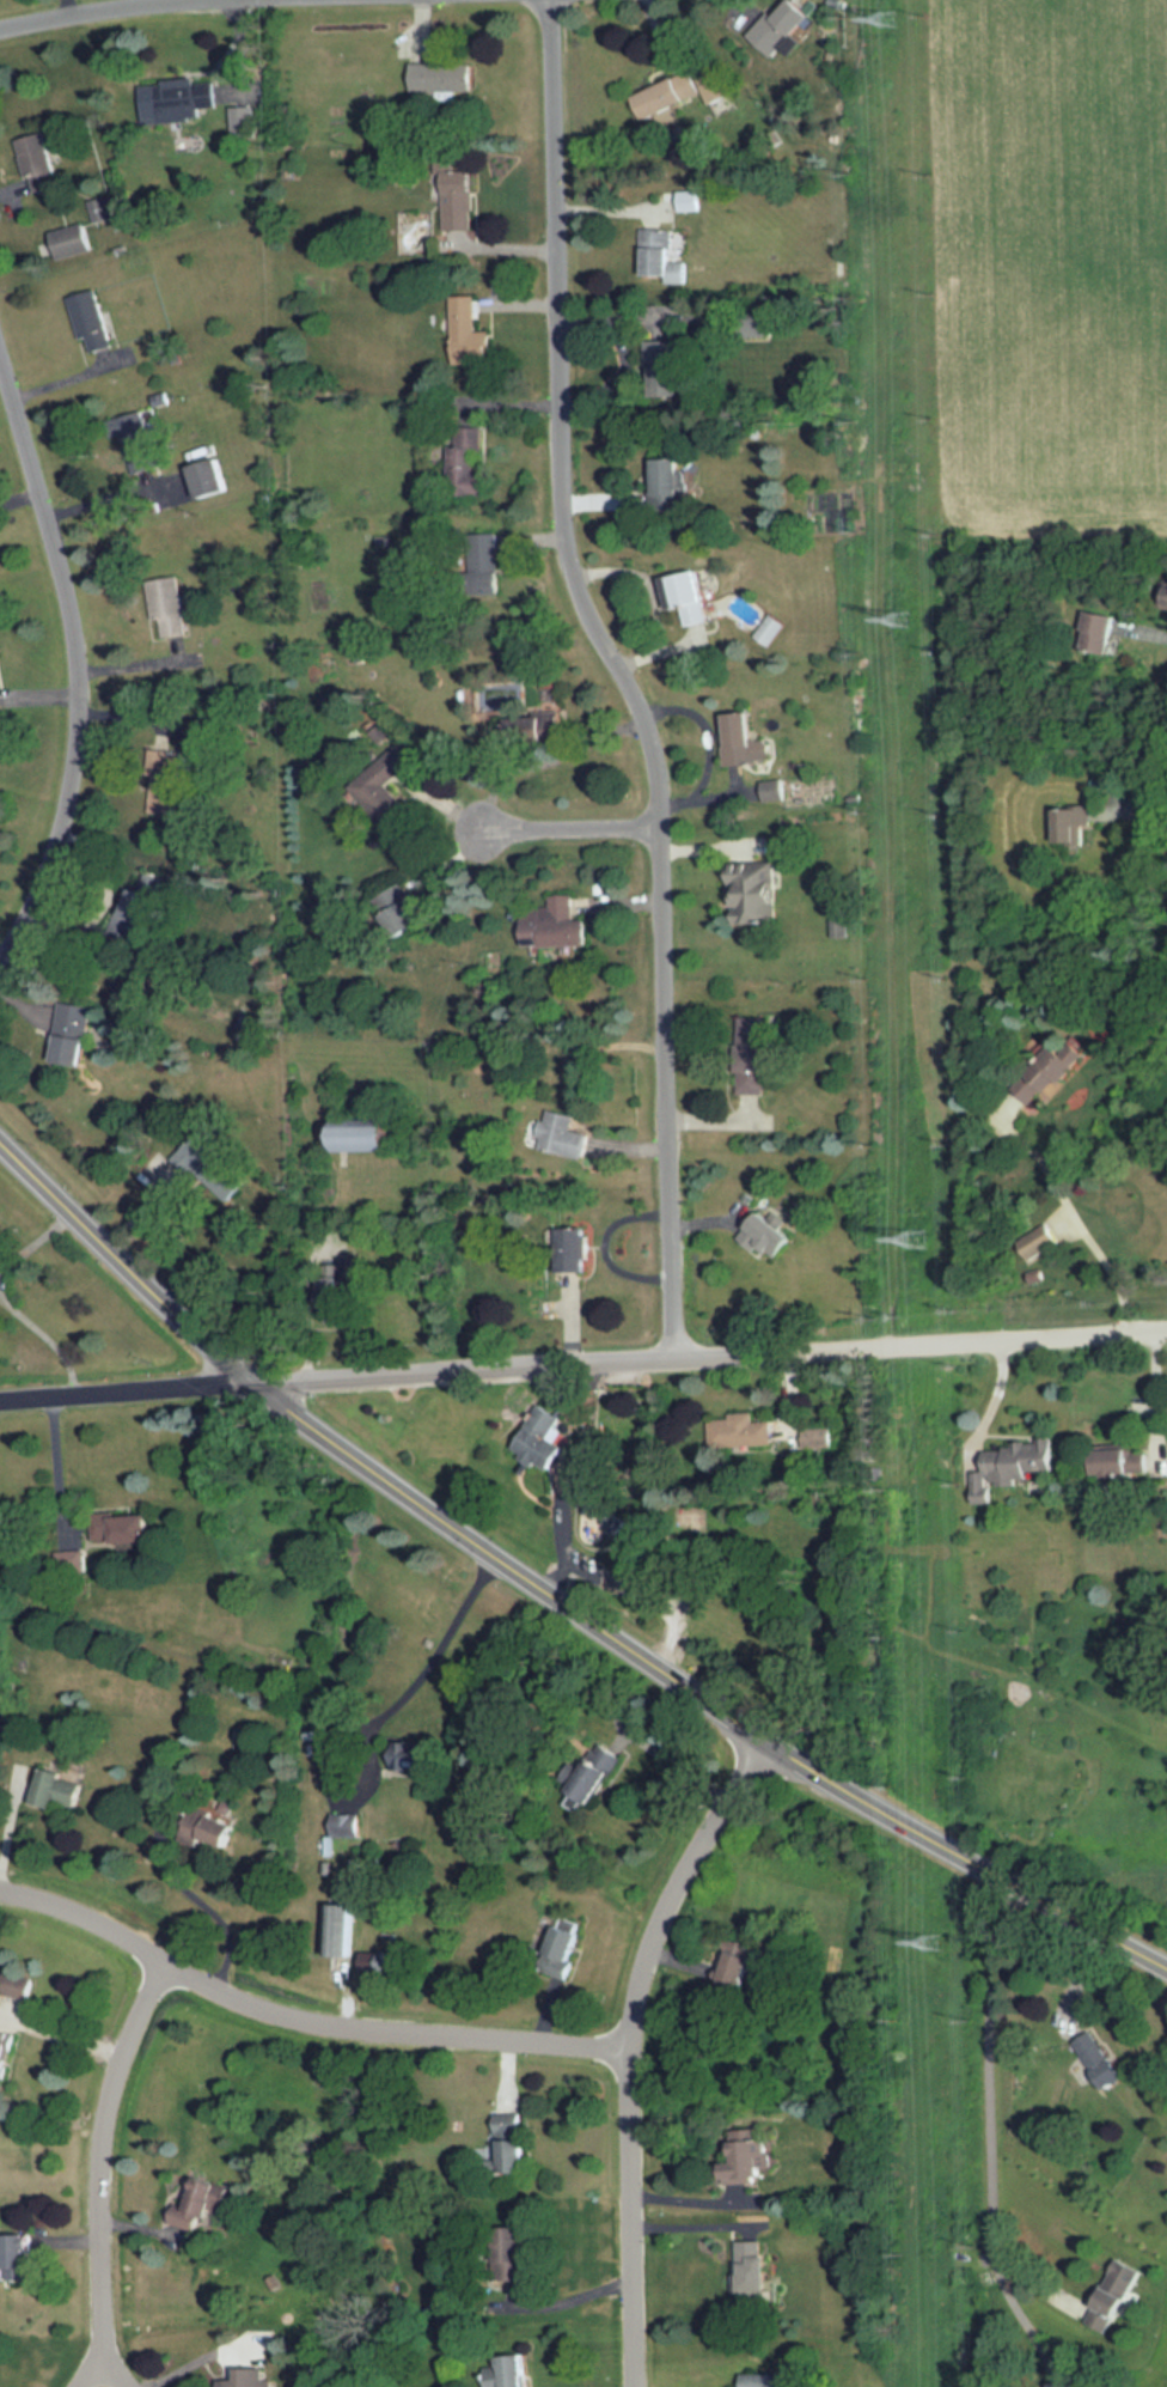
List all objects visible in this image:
road: (80, 10)
power tower: (888, 18)
building: (780, 29)
building: (442, 77)
building: (714, 85)
building: (667, 95)
building: (37, 163)
building: (459, 199)
building: (102, 208)
building: (71, 240)
building: (658, 252)
building: (91, 318)
building: (468, 331)
building: (662, 367)
building: (466, 458)
building: (201, 480)
building: (666, 481)
building: (481, 552)
building: (686, 595)
building: (1166, 601)
building: (167, 604)
power tower: (905, 617)
building: (771, 628)
building: (1098, 632)
road: (1159, 638)
road: (84, 653)
road: (628, 672)
building: (743, 739)
building: (774, 786)
building: (378, 787)
building: (161, 796)
road: (1143, 809)
building: (1071, 824)
road: (566, 827)
building: (754, 890)
building: (140, 906)
building: (838, 920)
building: (556, 925)
building: (73, 1034)
building: (753, 1054)
building: (1045, 1068)
building: (372, 1133)
building: (562, 1134)
road: (1079, 1225)
building: (1037, 1236)
building: (769, 1237)
power tower: (917, 1240)
road: (36, 1241)
building: (574, 1249)
road: (127, 1259)
building: (1035, 1271)
building: (334, 1301)
road: (42, 1334)
road: (961, 1339)
road: (507, 1364)
road: (128, 1388)
building: (538, 1427)
building: (738, 1432)
building: (815, 1433)
road: (60, 1460)
building: (1123, 1462)
building: (1012, 1466)
building: (617, 1522)
building: (122, 1528)
building: (71, 1557)
road: (701, 1688)
building: (8, 1711)
road: (366, 1724)
road: (673, 1762)
building: (589, 1782)
building: (61, 1790)
building: (214, 1821)
building: (349, 1823)
road: (201, 1904)
building: (340, 1925)
power tower: (931, 1944)
building: (563, 1947)
building: (384, 1961)
building: (734, 1965)
road: (303, 2016)
road: (66, 2029)
road: (634, 2044)
building: (6, 2051)
building: (1099, 2058)
road: (991, 2127)
building: (512, 2142)
building: (749, 2157)
road: (106, 2168)
building: (201, 2205)
building: (18, 2258)
building: (754, 2273)
building: (1116, 2297)
road: (574, 2301)
road: (196, 2363)
building: (514, 2371)
building: (765, 2377)
building: (250, 2379)
building: (1068, 2383)

